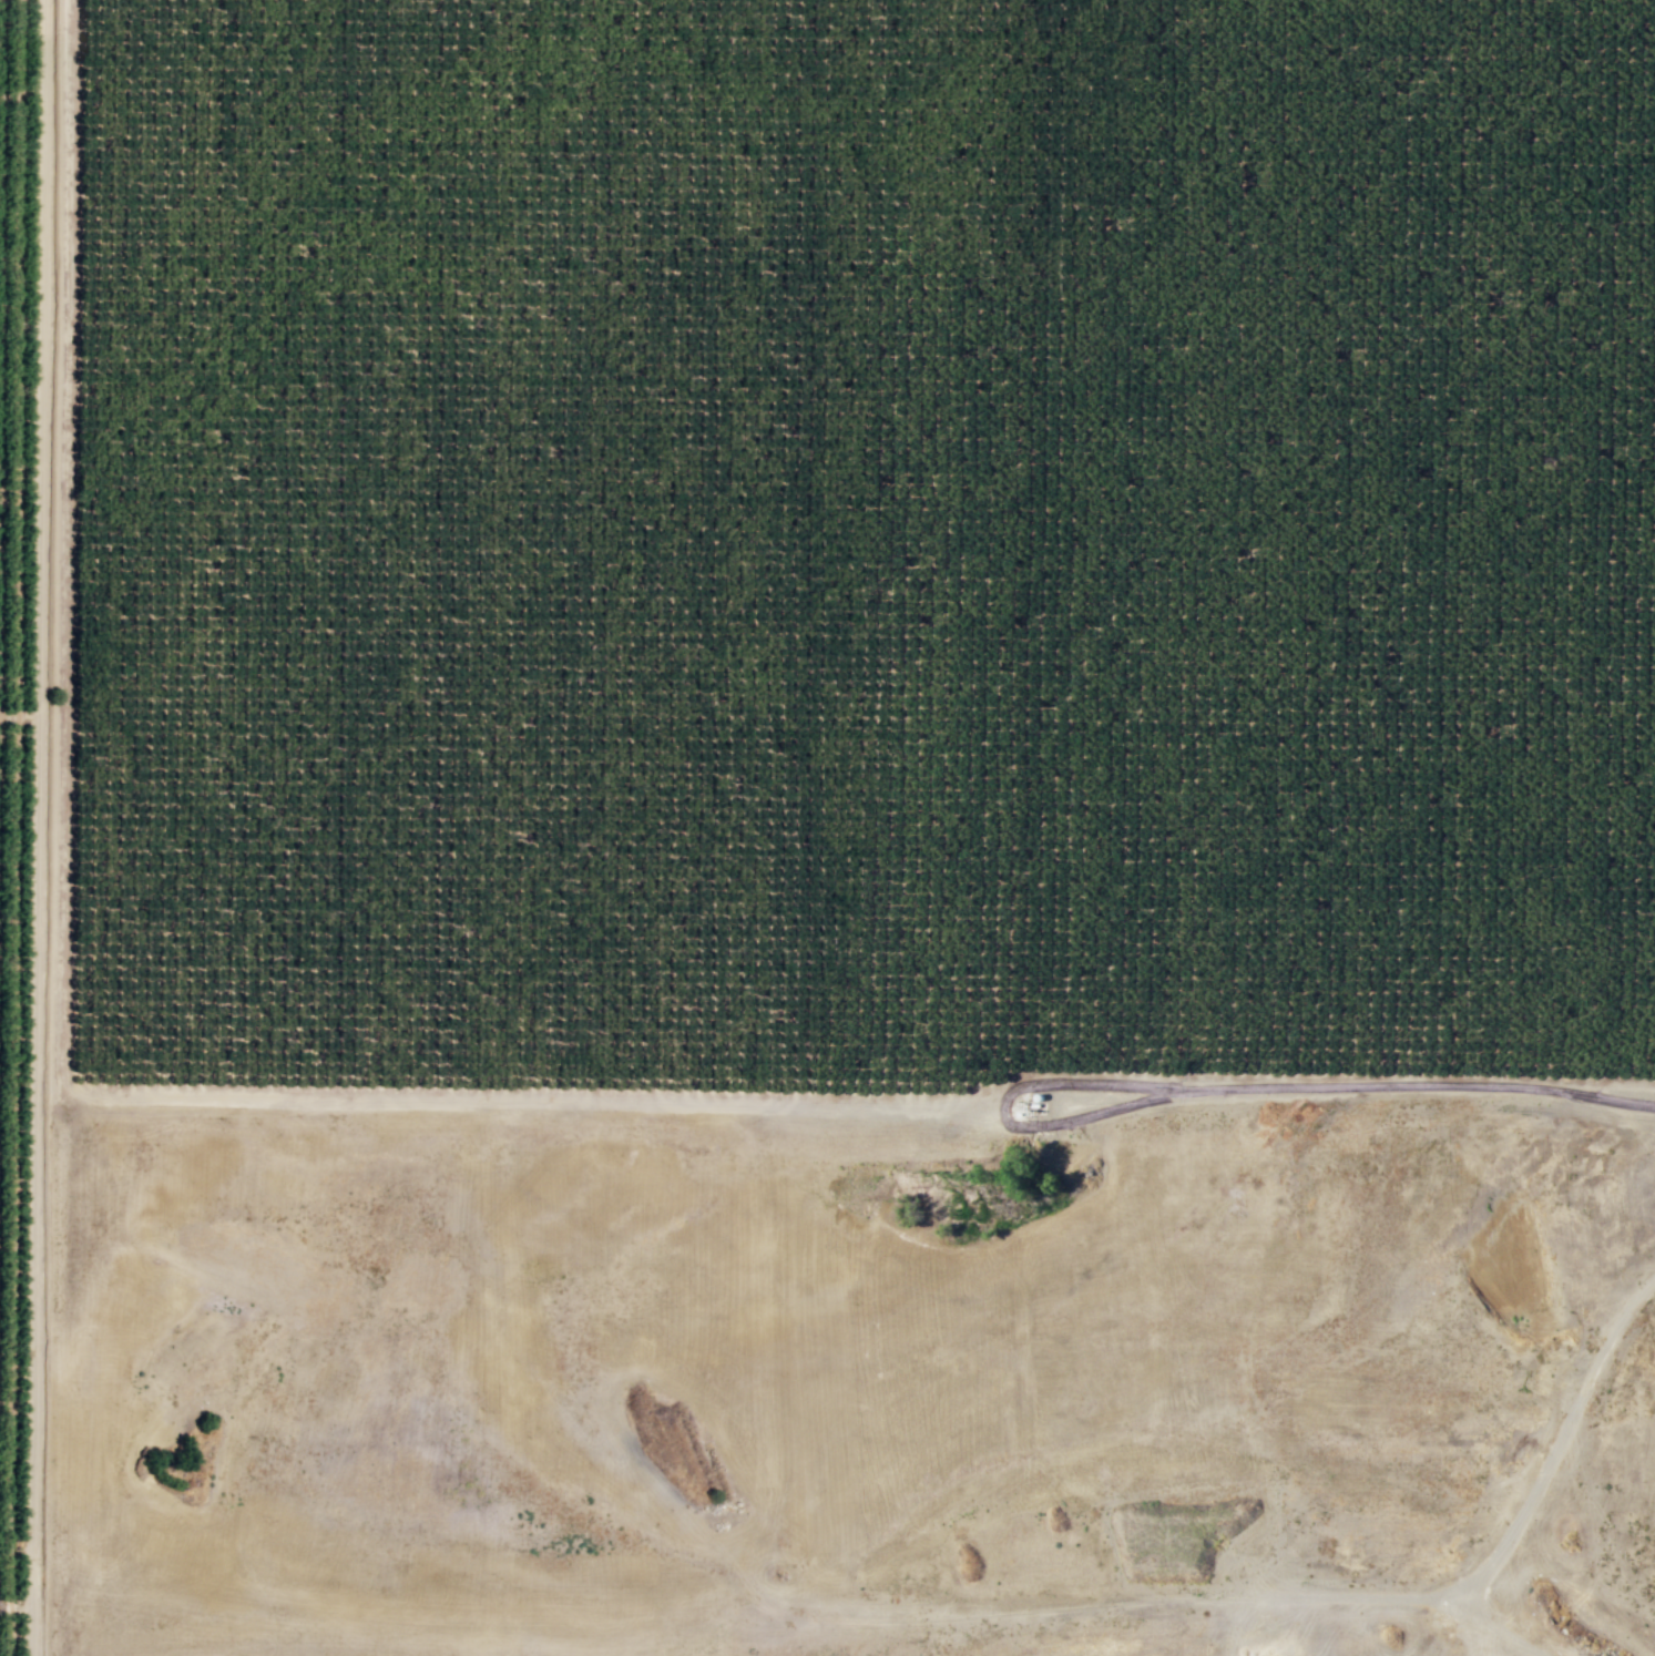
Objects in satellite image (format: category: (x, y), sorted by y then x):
road: (21, 715)
road: (41, 828)
road: (1621, 1091)
road: (321, 1104)
road: (1080, 1118)
road: (1143, 1428)
road: (1275, 1598)
road: (17, 1603)
road: (1493, 1625)
road: (1441, 1635)

